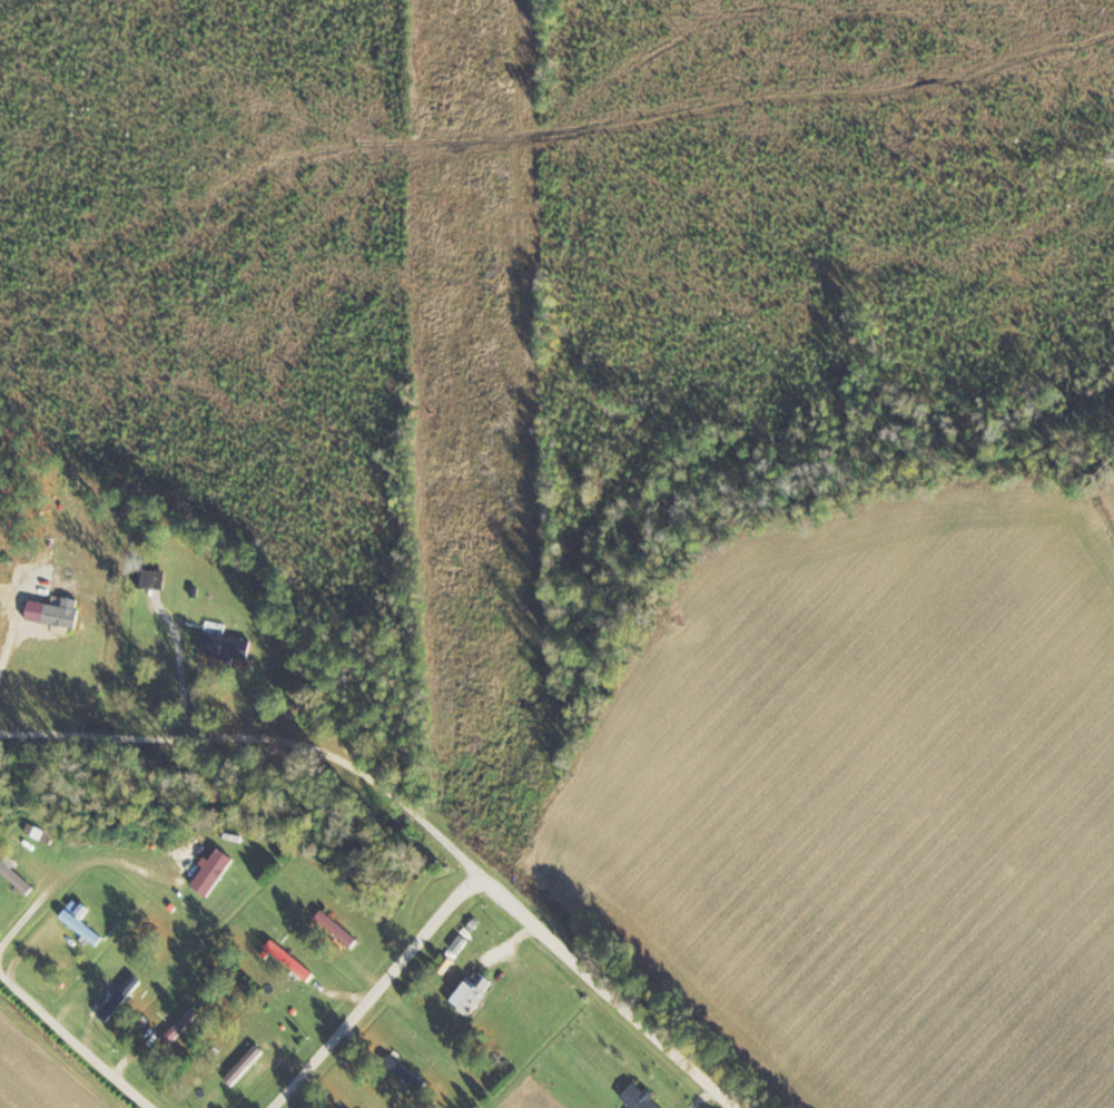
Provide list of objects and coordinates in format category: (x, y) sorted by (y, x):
power tower: (505, 87)
power tower: (507, 423)
building: (230, 644)
road: (410, 816)
power tower: (532, 847)
road: (71, 870)
building: (216, 877)
building: (345, 923)
building: (87, 926)
building: (138, 950)
building: (295, 961)
road: (378, 993)
building: (186, 1024)
road: (81, 1040)
building: (250, 1061)
building: (411, 1071)
building: (643, 1098)

